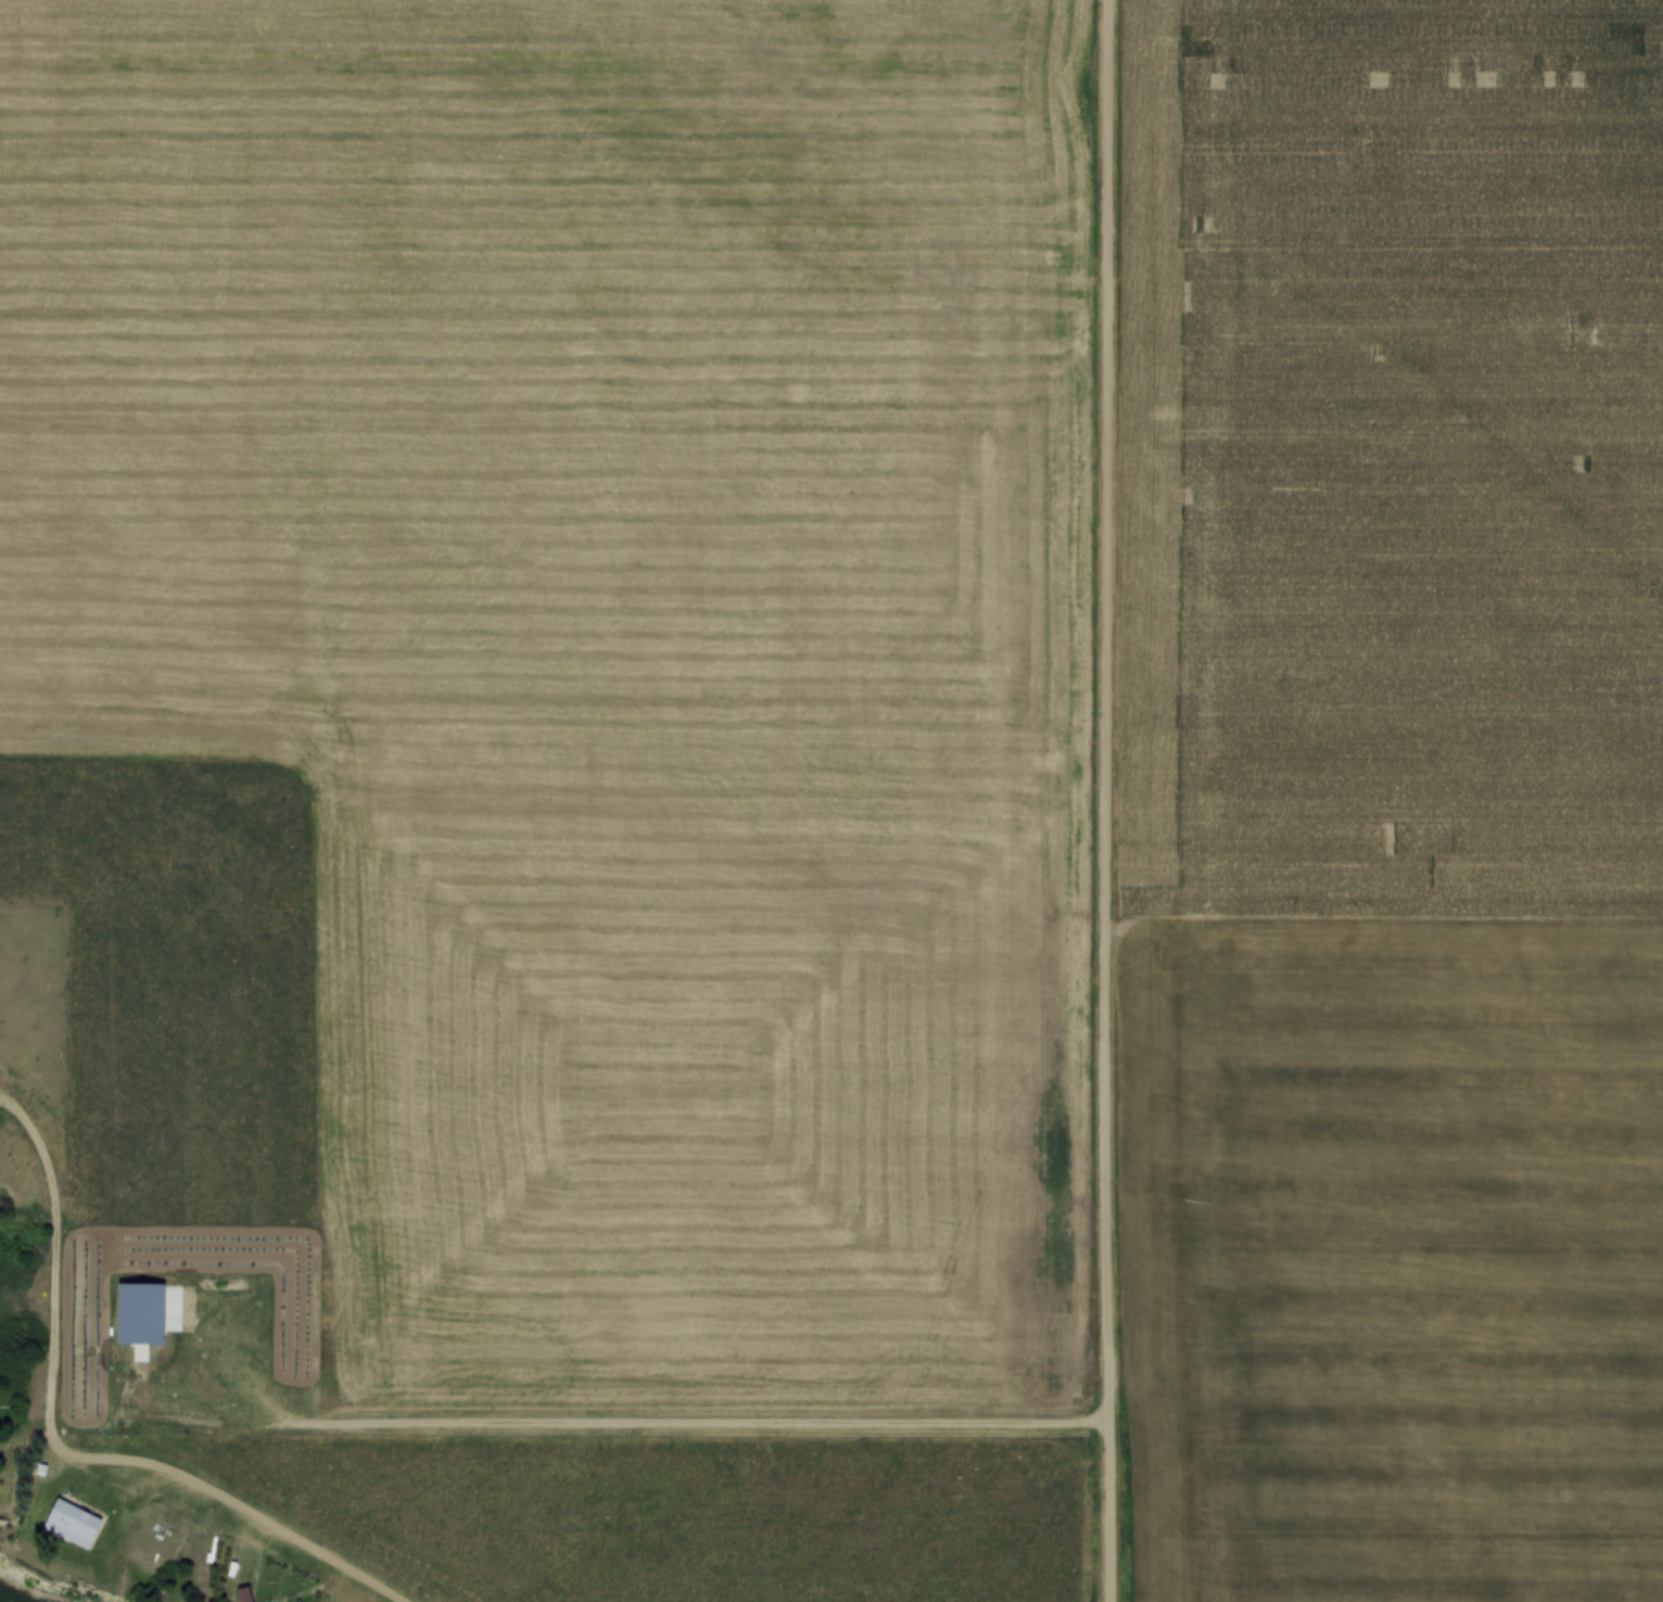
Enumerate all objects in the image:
road: (1108, 801)
road: (74, 1444)
building: (72, 1524)
building: (245, 1599)

